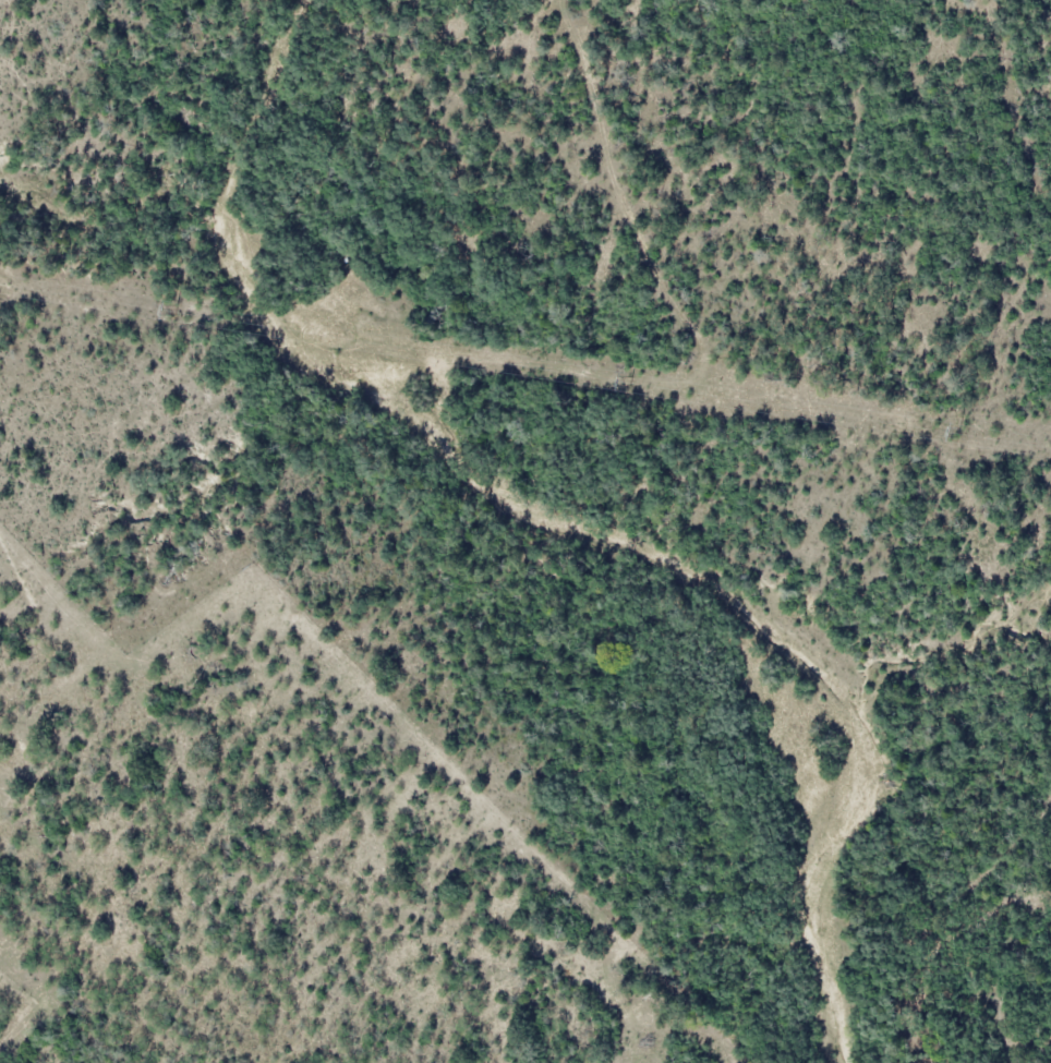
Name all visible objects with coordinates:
road: (675, 305)
power tower: (179, 309)
power tower: (628, 379)
power tower: (962, 431)

